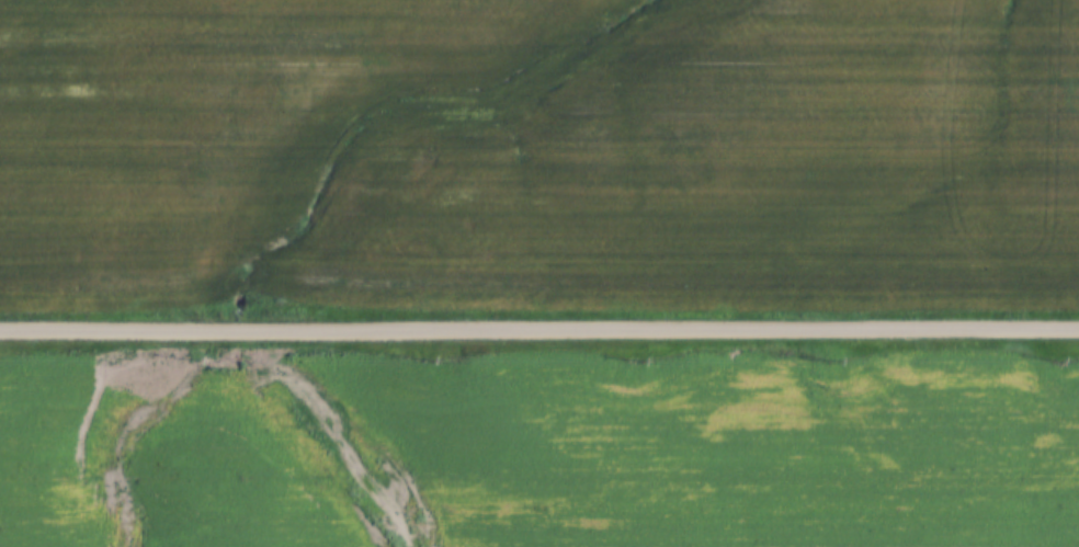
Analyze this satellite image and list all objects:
road: (539, 332)

